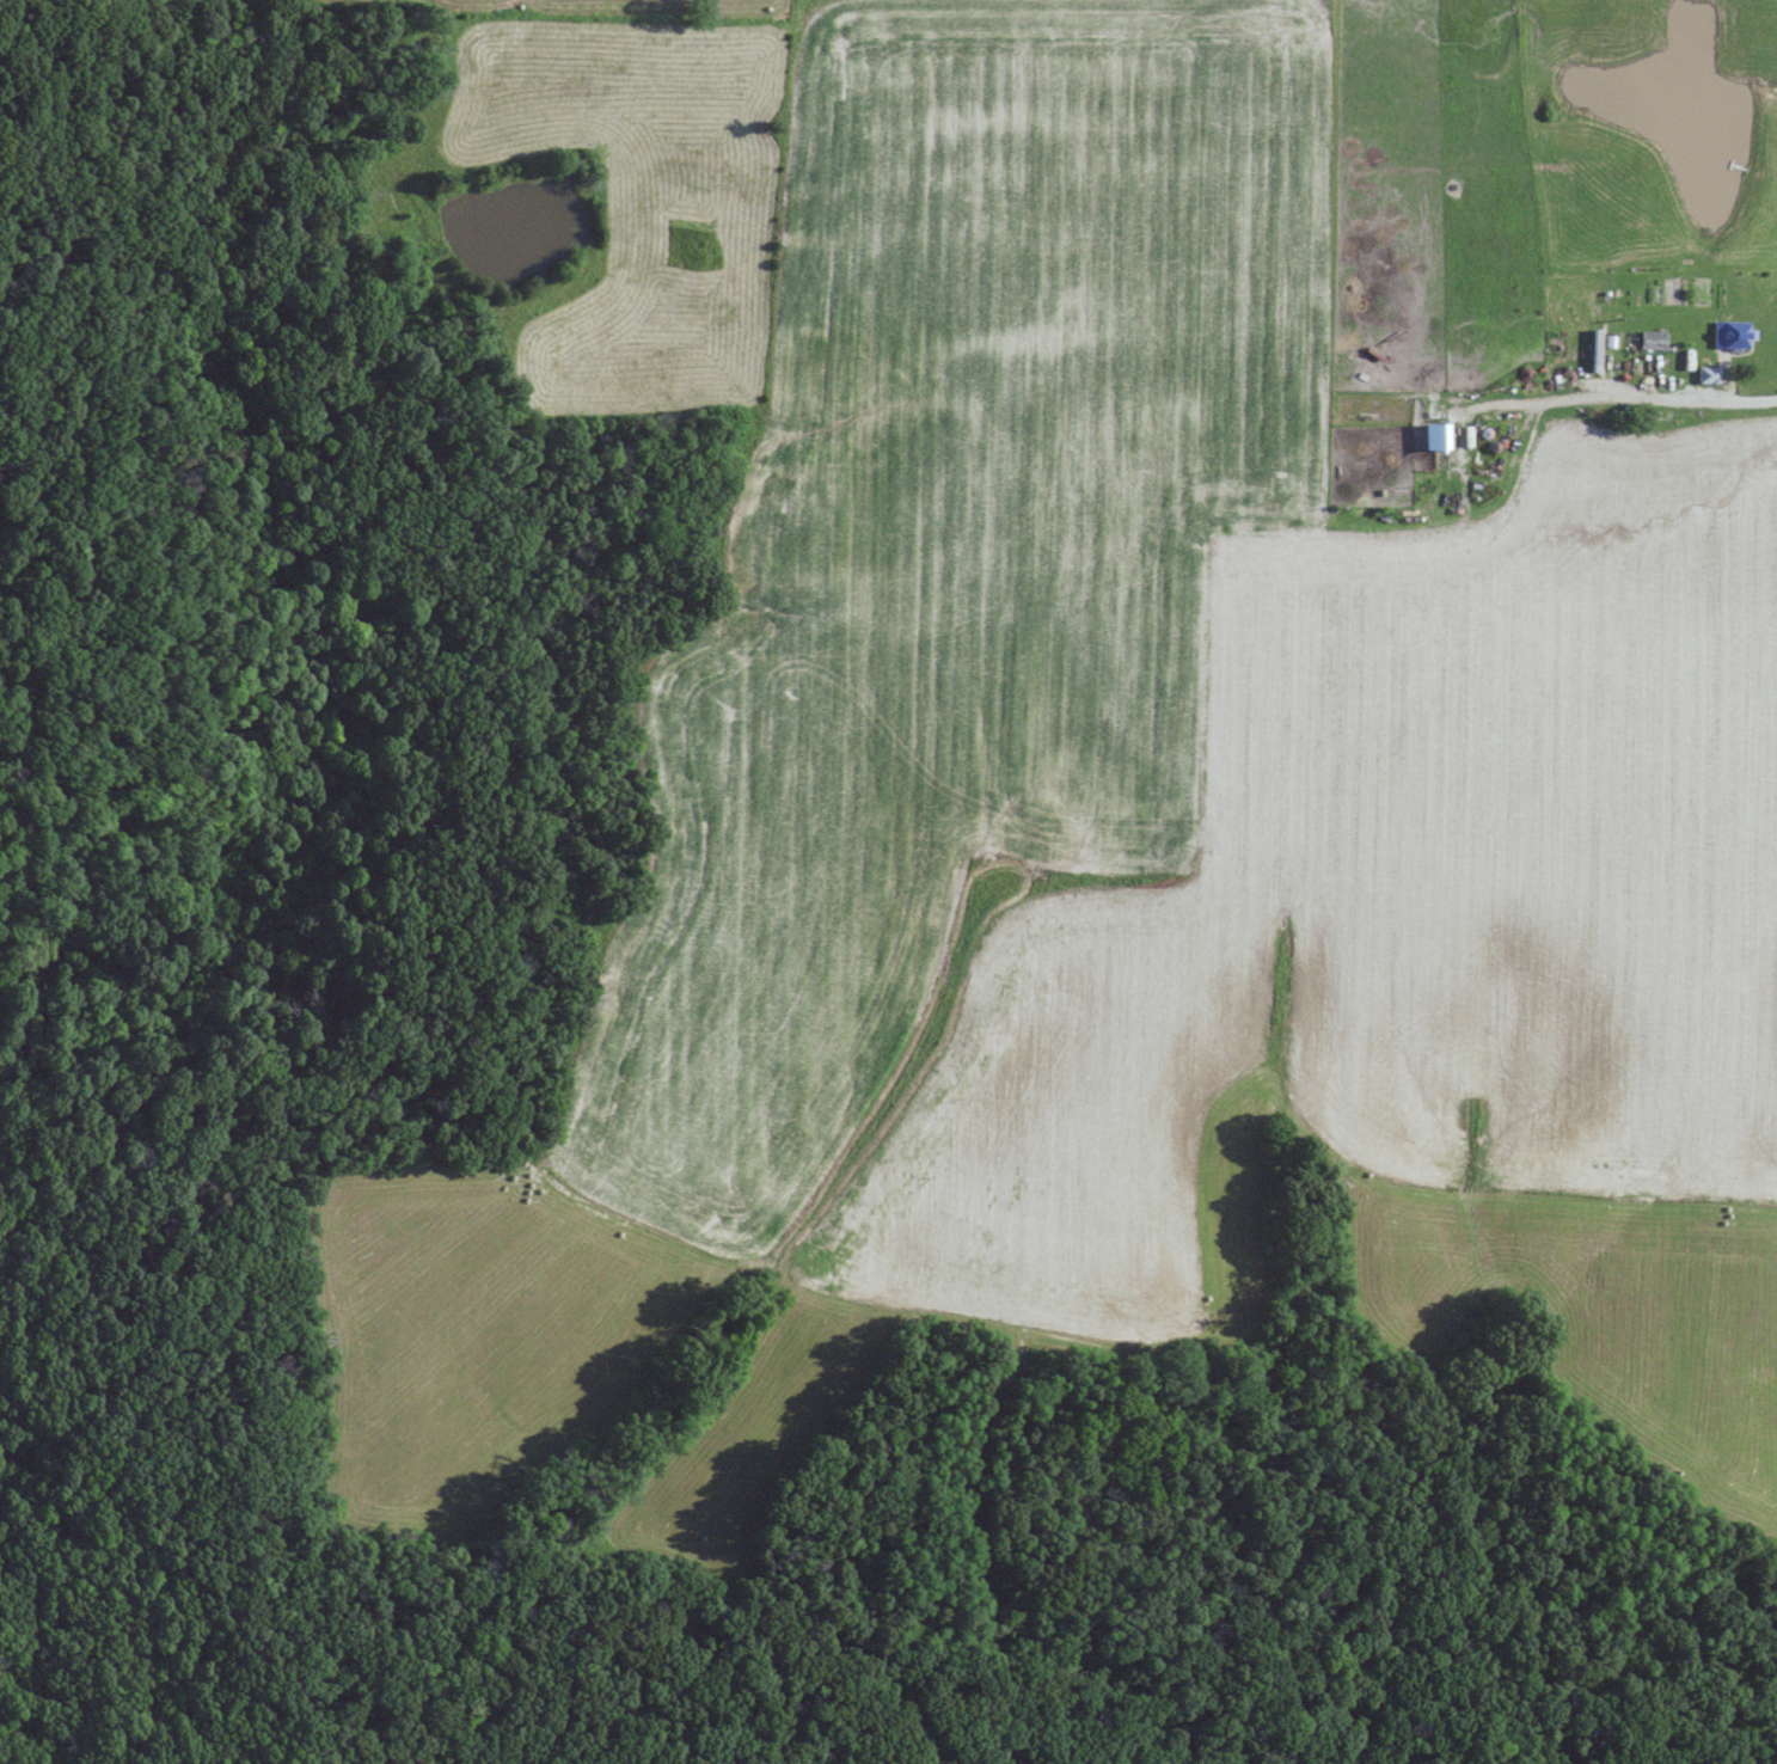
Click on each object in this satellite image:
building: (1650, 338)
building: (1594, 349)
building: (1708, 373)
road: (1739, 396)
building: (1434, 435)

